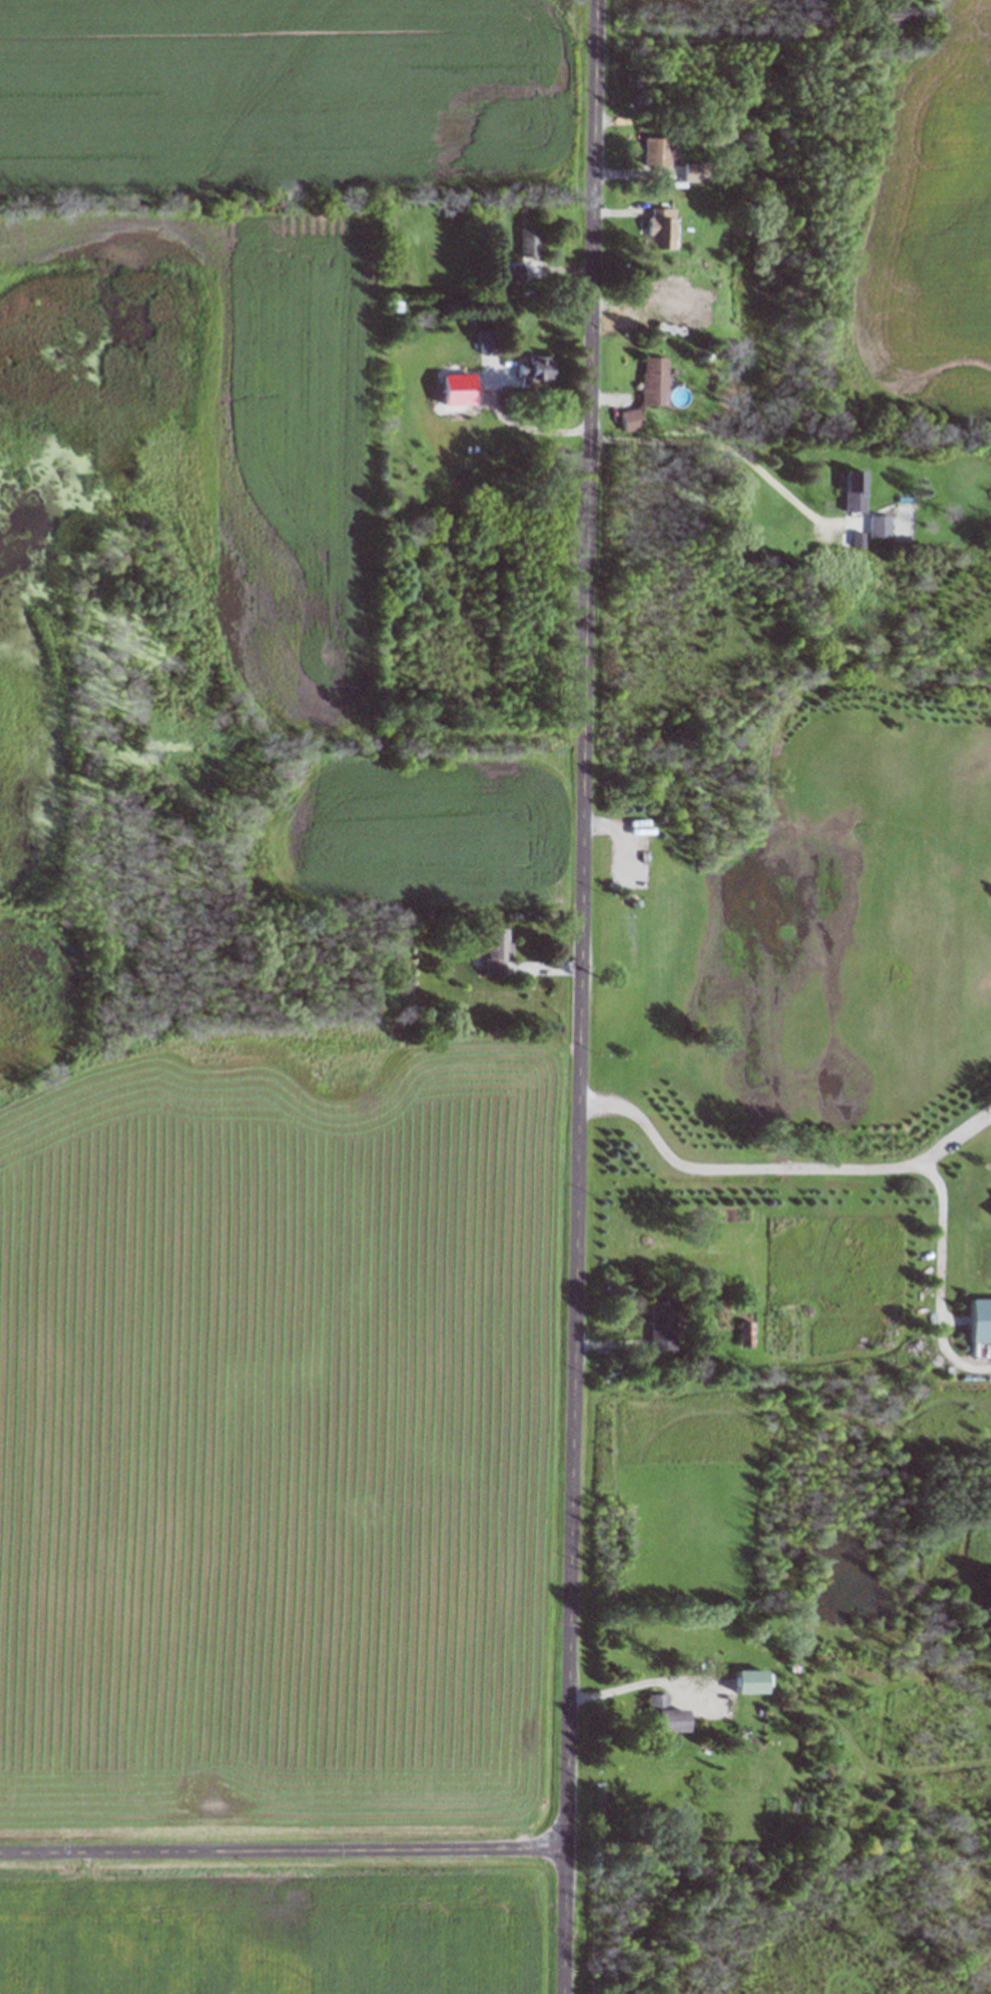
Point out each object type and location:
building: (890, 15)
building: (654, 152)
building: (691, 172)
building: (657, 228)
building: (527, 242)
building: (687, 304)
building: (532, 371)
building: (651, 381)
building: (629, 420)
building: (852, 494)
building: (876, 526)
building: (845, 545)
building: (492, 952)
road: (581, 997)
road: (782, 1163)
building: (990, 1206)
building: (978, 1320)
building: (659, 1325)
building: (745, 1681)
building: (662, 1714)
road: (283, 1847)

